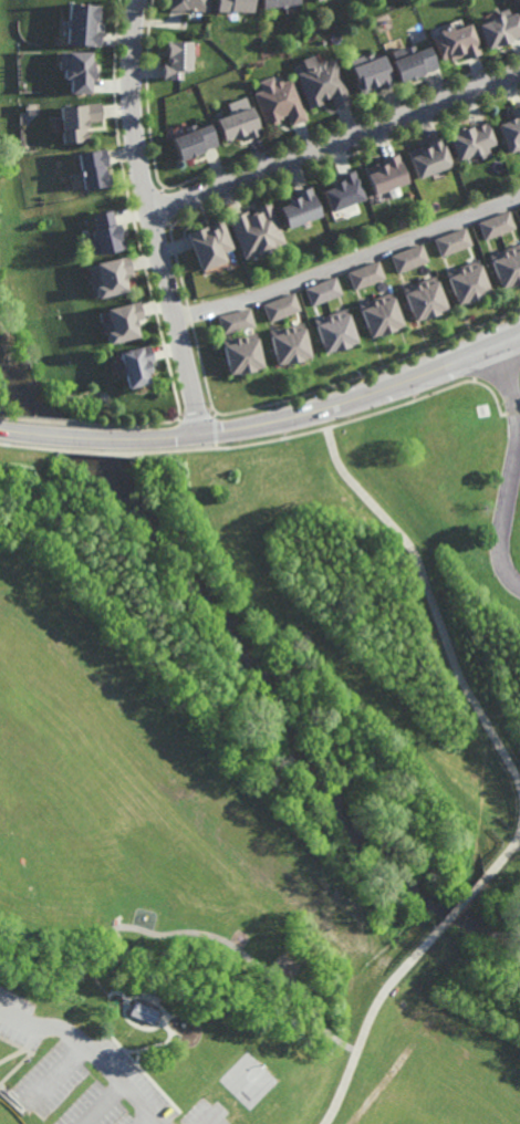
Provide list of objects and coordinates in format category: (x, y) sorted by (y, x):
building: (314, 0)
building: (519, 2)
building: (277, 3)
building: (187, 6)
building: (233, 6)
building: (76, 25)
building: (498, 31)
building: (454, 43)
building: (174, 60)
building: (408, 64)
building: (72, 72)
building: (367, 74)
building: (319, 86)
building: (278, 104)
building: (72, 124)
building: (237, 126)
building: (511, 132)
building: (469, 143)
building: (190, 144)
road: (340, 148)
building: (427, 159)
building: (89, 173)
building: (384, 176)
building: (342, 194)
building: (299, 210)
road: (159, 216)
building: (496, 227)
building: (256, 230)
building: (103, 232)
building: (451, 241)
building: (209, 243)
building: (408, 256)
road: (349, 262)
building: (507, 263)
building: (106, 271)
building: (364, 273)
building: (467, 280)
building: (81, 289)
building: (323, 290)
building: (423, 296)
building: (281, 305)
building: (378, 312)
building: (118, 318)
building: (235, 320)
building: (333, 329)
building: (289, 342)
building: (240, 352)
building: (132, 363)
road: (510, 385)
road: (196, 417)
road: (264, 419)
road: (214, 421)
road: (215, 437)
road: (272, 439)
road: (505, 511)
road: (315, 560)
road: (433, 600)
road: (478, 621)
road: (502, 719)
park: (251, 792)
road: (476, 835)
road: (519, 835)
road: (503, 854)
road: (503, 885)
road: (461, 902)
road: (249, 958)
road: (119, 992)
building: (143, 1014)
road: (370, 1018)
road: (160, 1020)
road: (124, 1050)
road: (131, 1050)
road: (90, 1051)
road: (138, 1062)
parking lot: (86, 1073)
road: (59, 1074)
park: (249, 1075)
road: (105, 1104)
park: (8, 1114)
road: (146, 1118)
road: (211, 1118)

